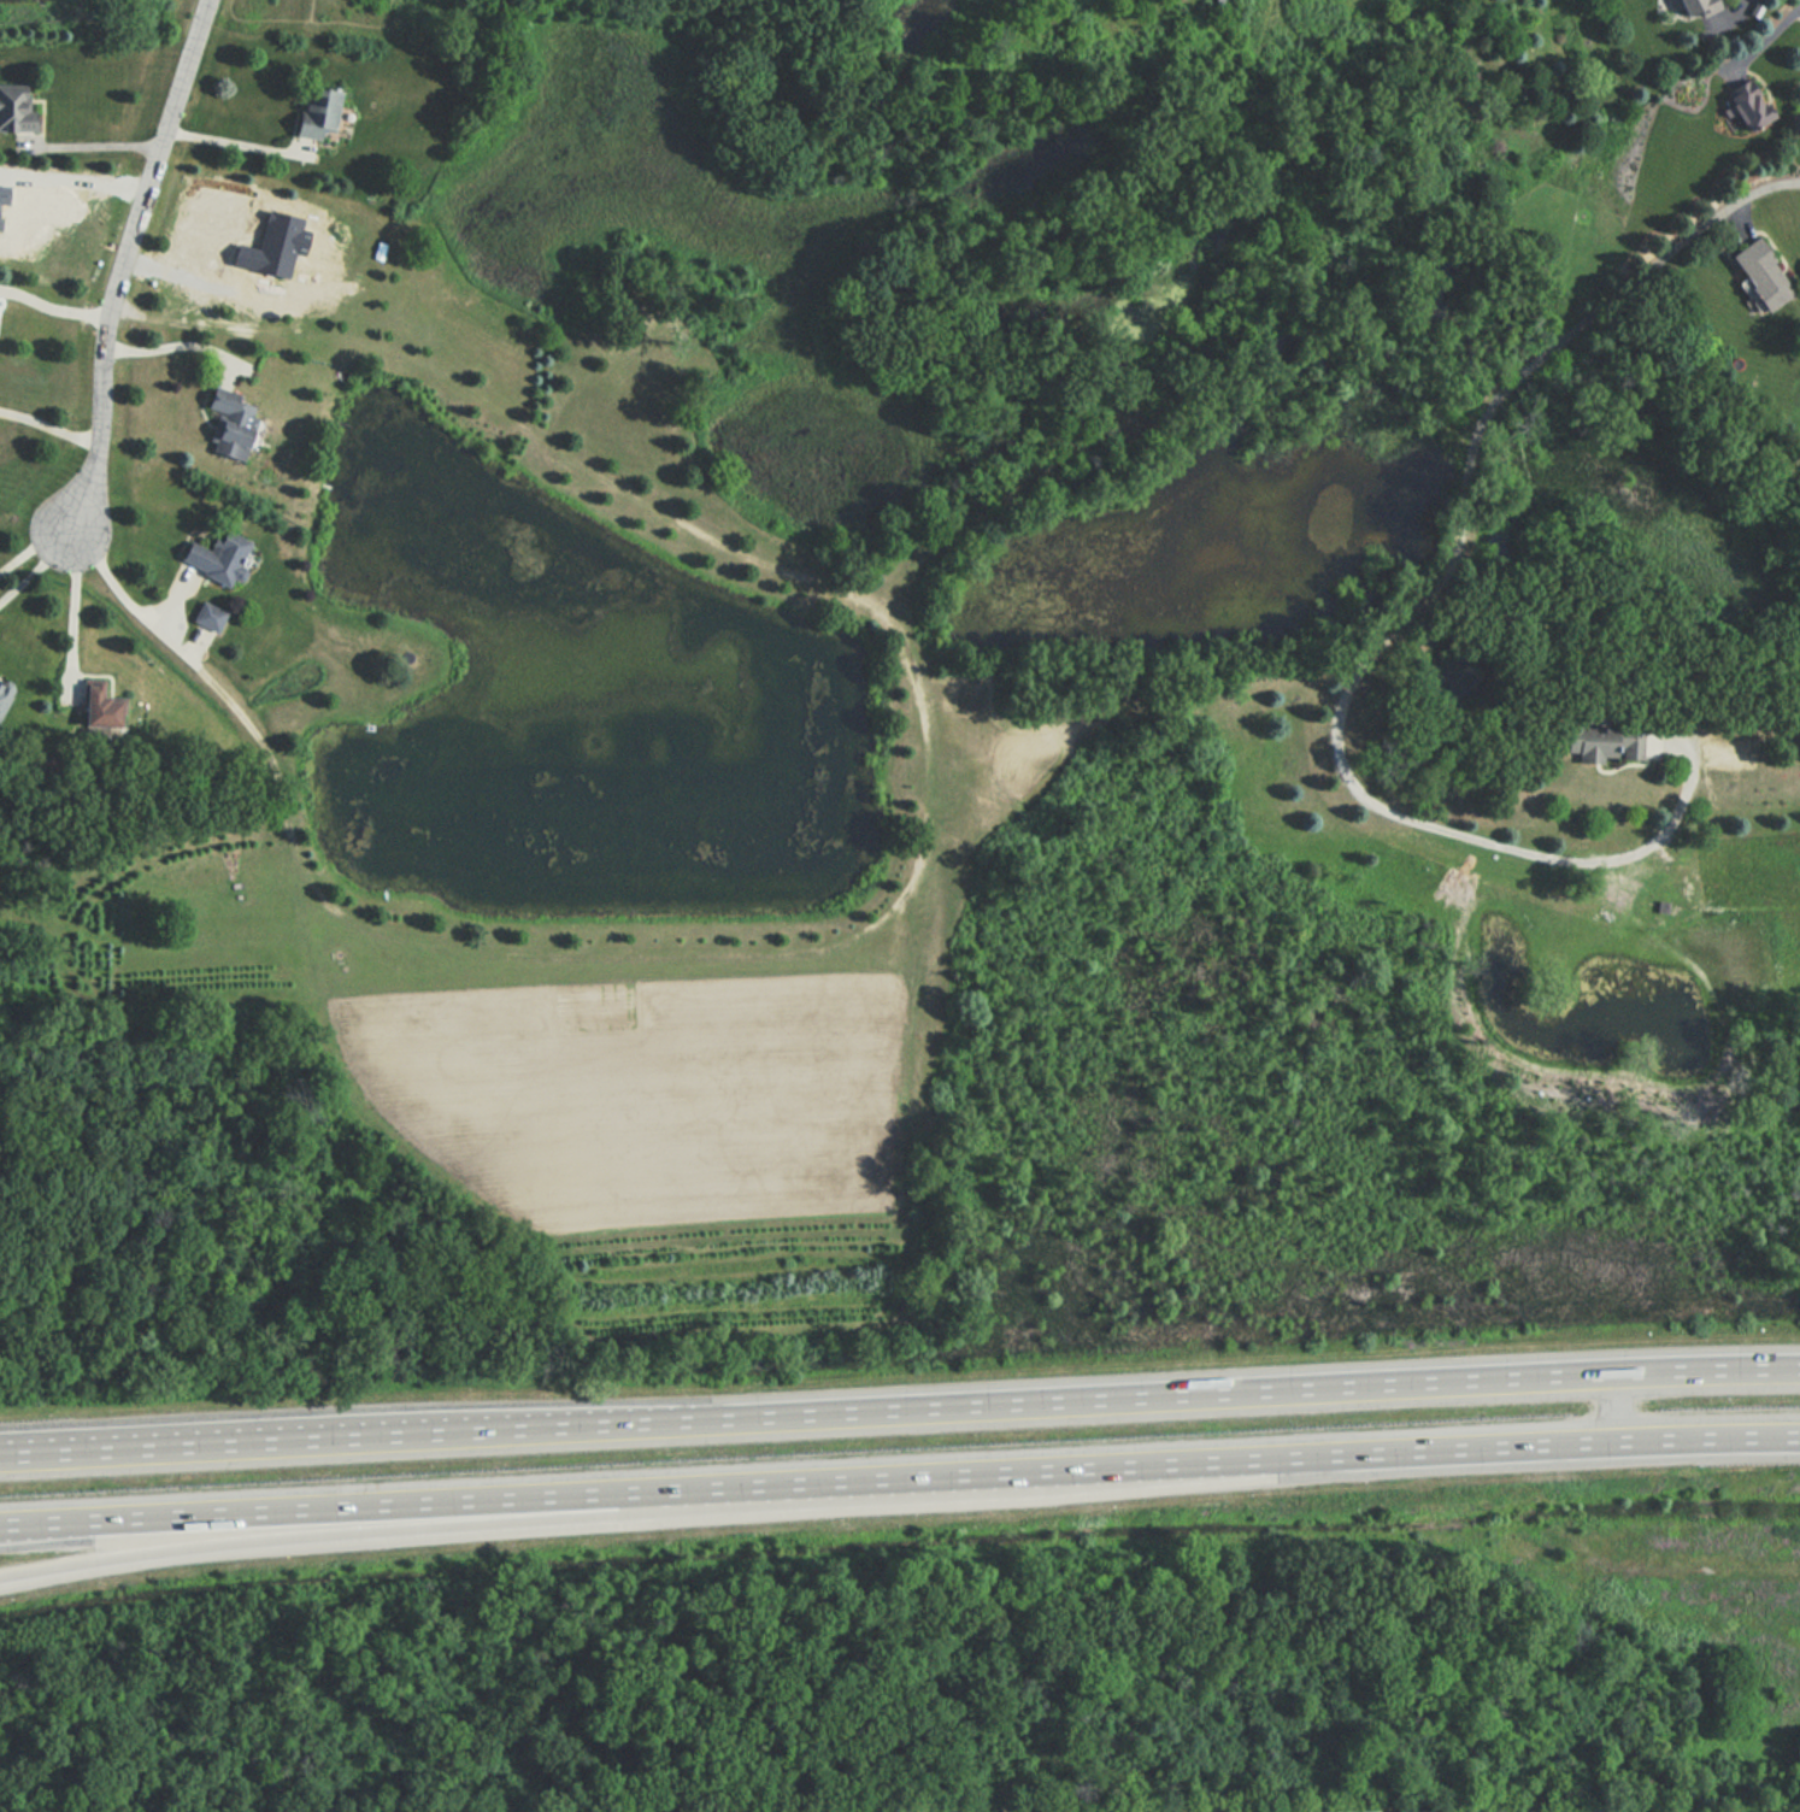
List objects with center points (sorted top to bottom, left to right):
building: (1689, 5)
building: (1746, 104)
building: (12, 107)
building: (312, 113)
road: (229, 133)
road: (92, 145)
road: (120, 261)
building: (1757, 273)
road: (198, 282)
road: (51, 308)
road: (171, 346)
building: (229, 422)
road: (49, 428)
road: (33, 547)
building: (216, 554)
road: (36, 565)
road: (70, 610)
building: (206, 616)
road: (1412, 618)
road: (165, 636)
building: (5, 692)
building: (1596, 741)
road: (899, 1406)
road: (1622, 1407)
road: (13, 1454)
road: (899, 1476)
road: (369, 1530)
building: (1561, 1808)
parking lot: (1614, 1808)
parking lot: (1499, 1810)
building: (1305, 1811)
parking lot: (1348, 1811)
building: (1436, 1811)

